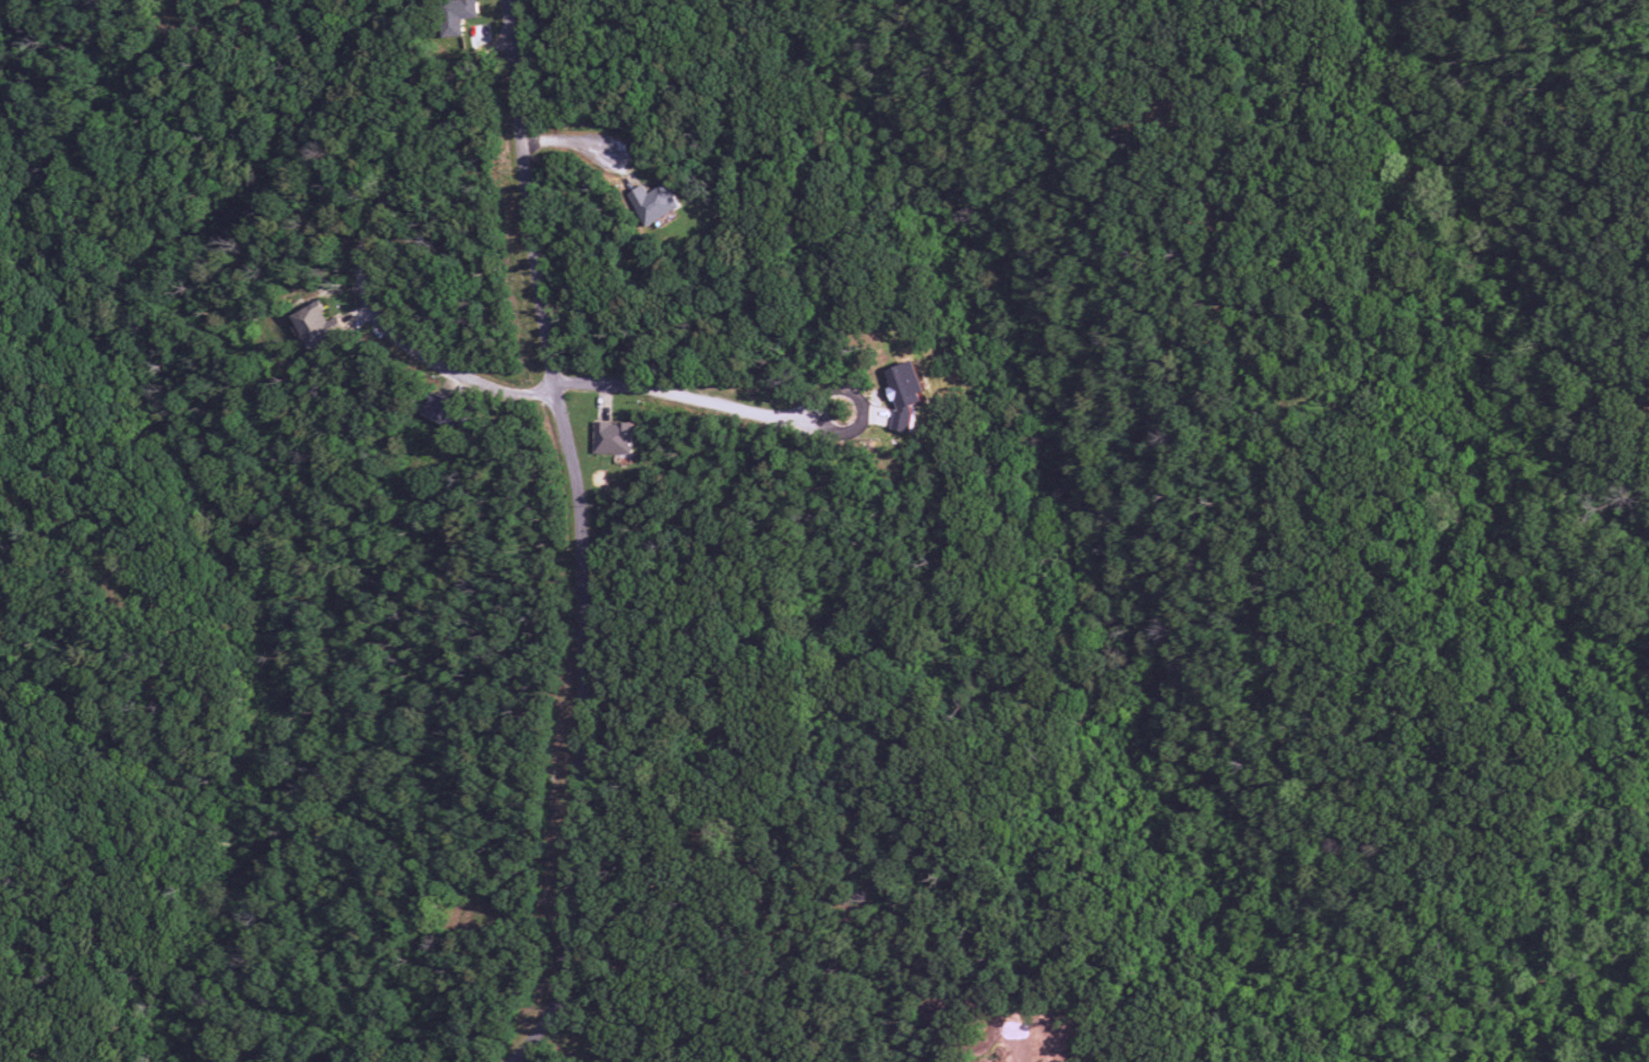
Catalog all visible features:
road: (180, 10)
building: (455, 15)
road: (576, 144)
building: (654, 204)
road: (366, 253)
road: (1216, 301)
building: (318, 325)
road: (686, 391)
building: (906, 395)
building: (446, 412)
road: (1287, 431)
building: (615, 439)
road: (1030, 462)
road: (265, 522)
road: (69, 524)
road: (588, 534)
road: (773, 862)
road: (895, 889)
road: (515, 917)
road: (1628, 1036)
road: (581, 1045)

